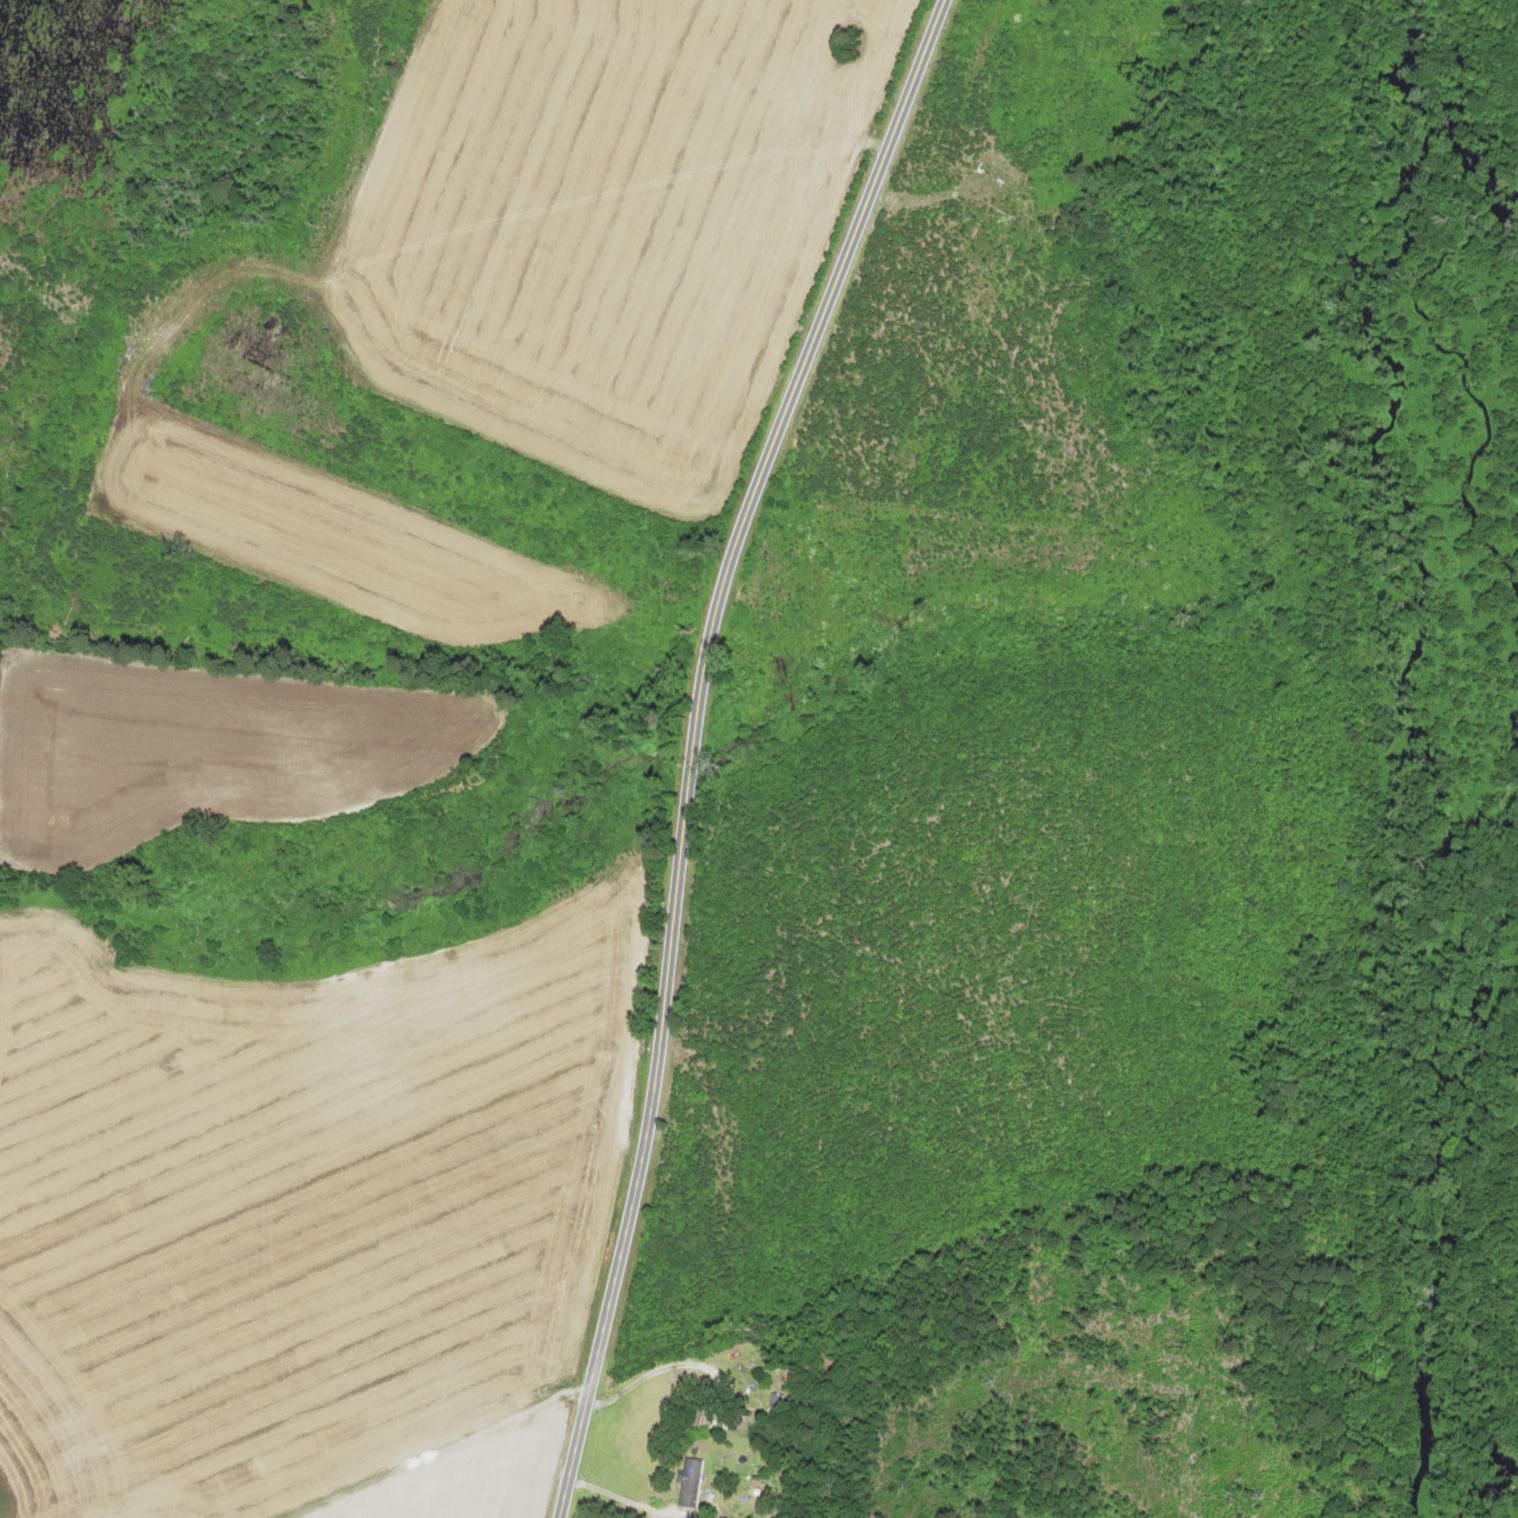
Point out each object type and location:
road: (924, 544)
road: (695, 741)
building: (699, 1402)
building: (689, 1484)

